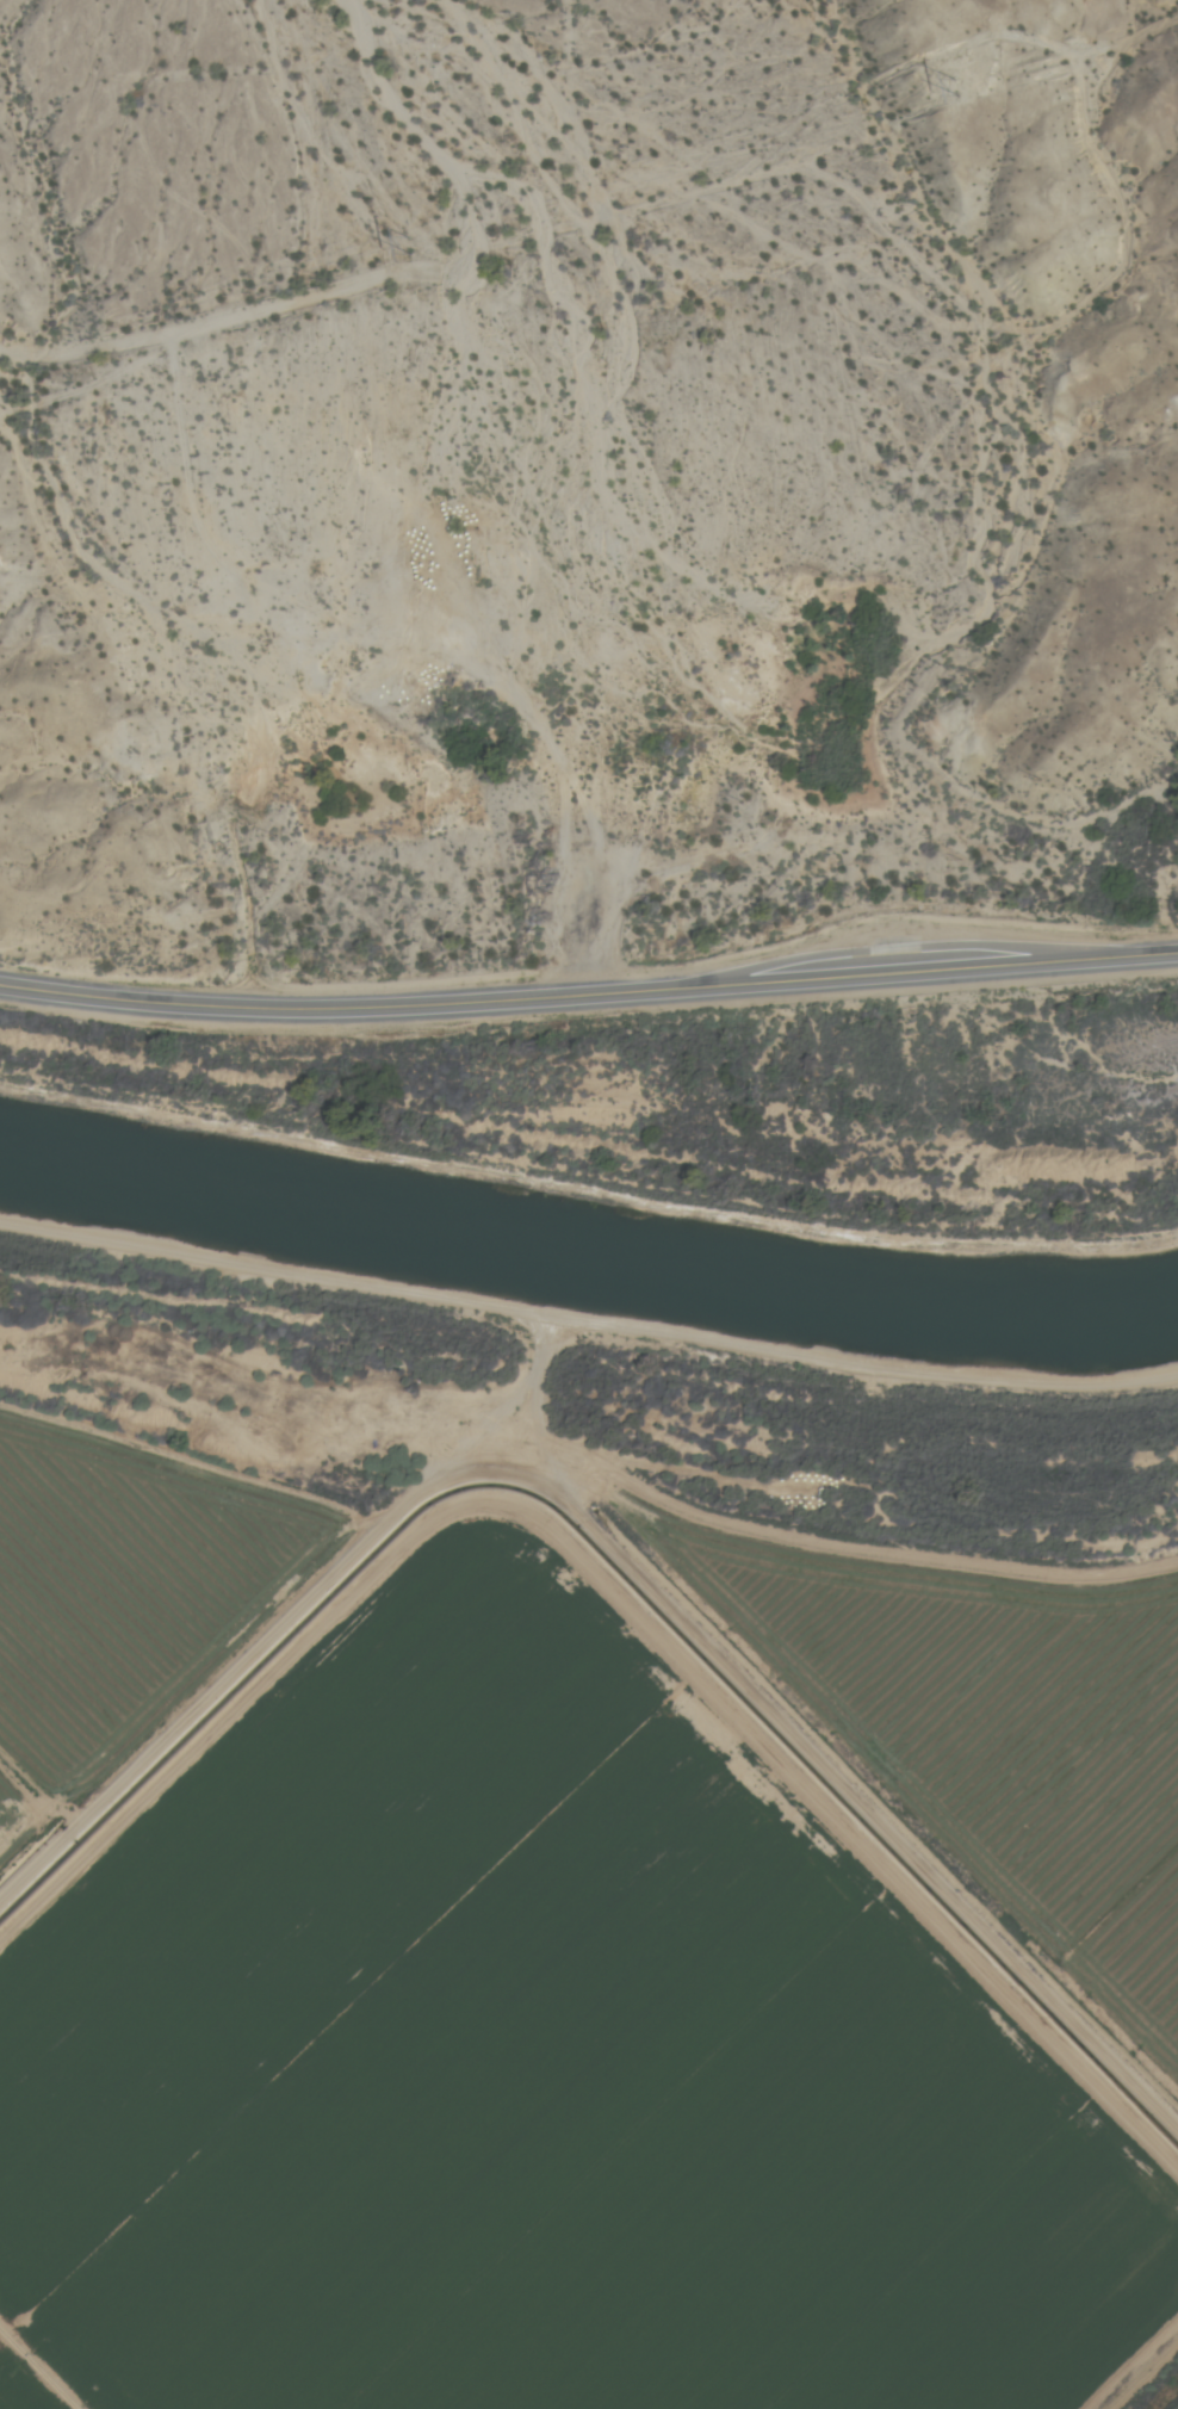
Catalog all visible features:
power tower: (960, 88)
power tower: (420, 241)
road: (588, 995)
crop: (14, 1808)

